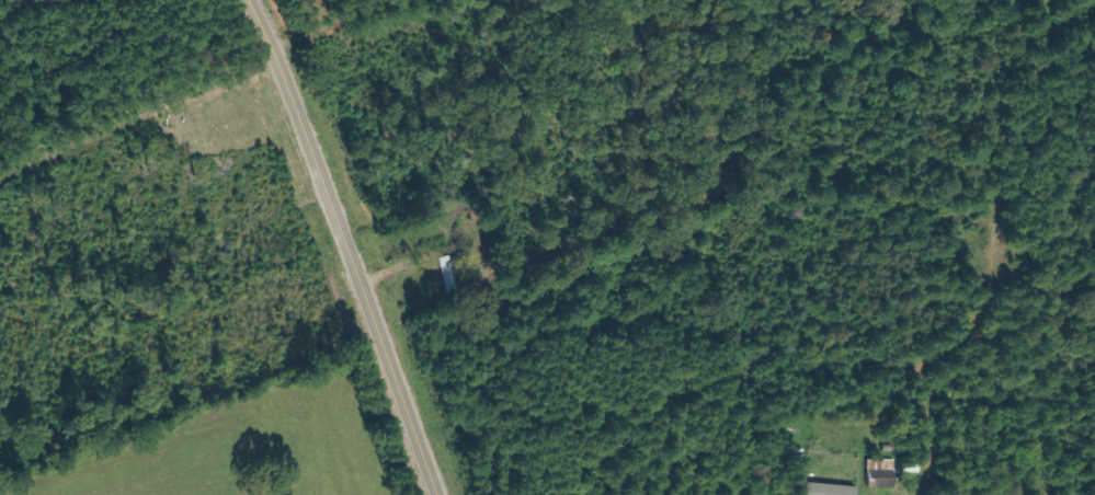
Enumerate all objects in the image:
road: (346, 248)
building: (828, 490)

